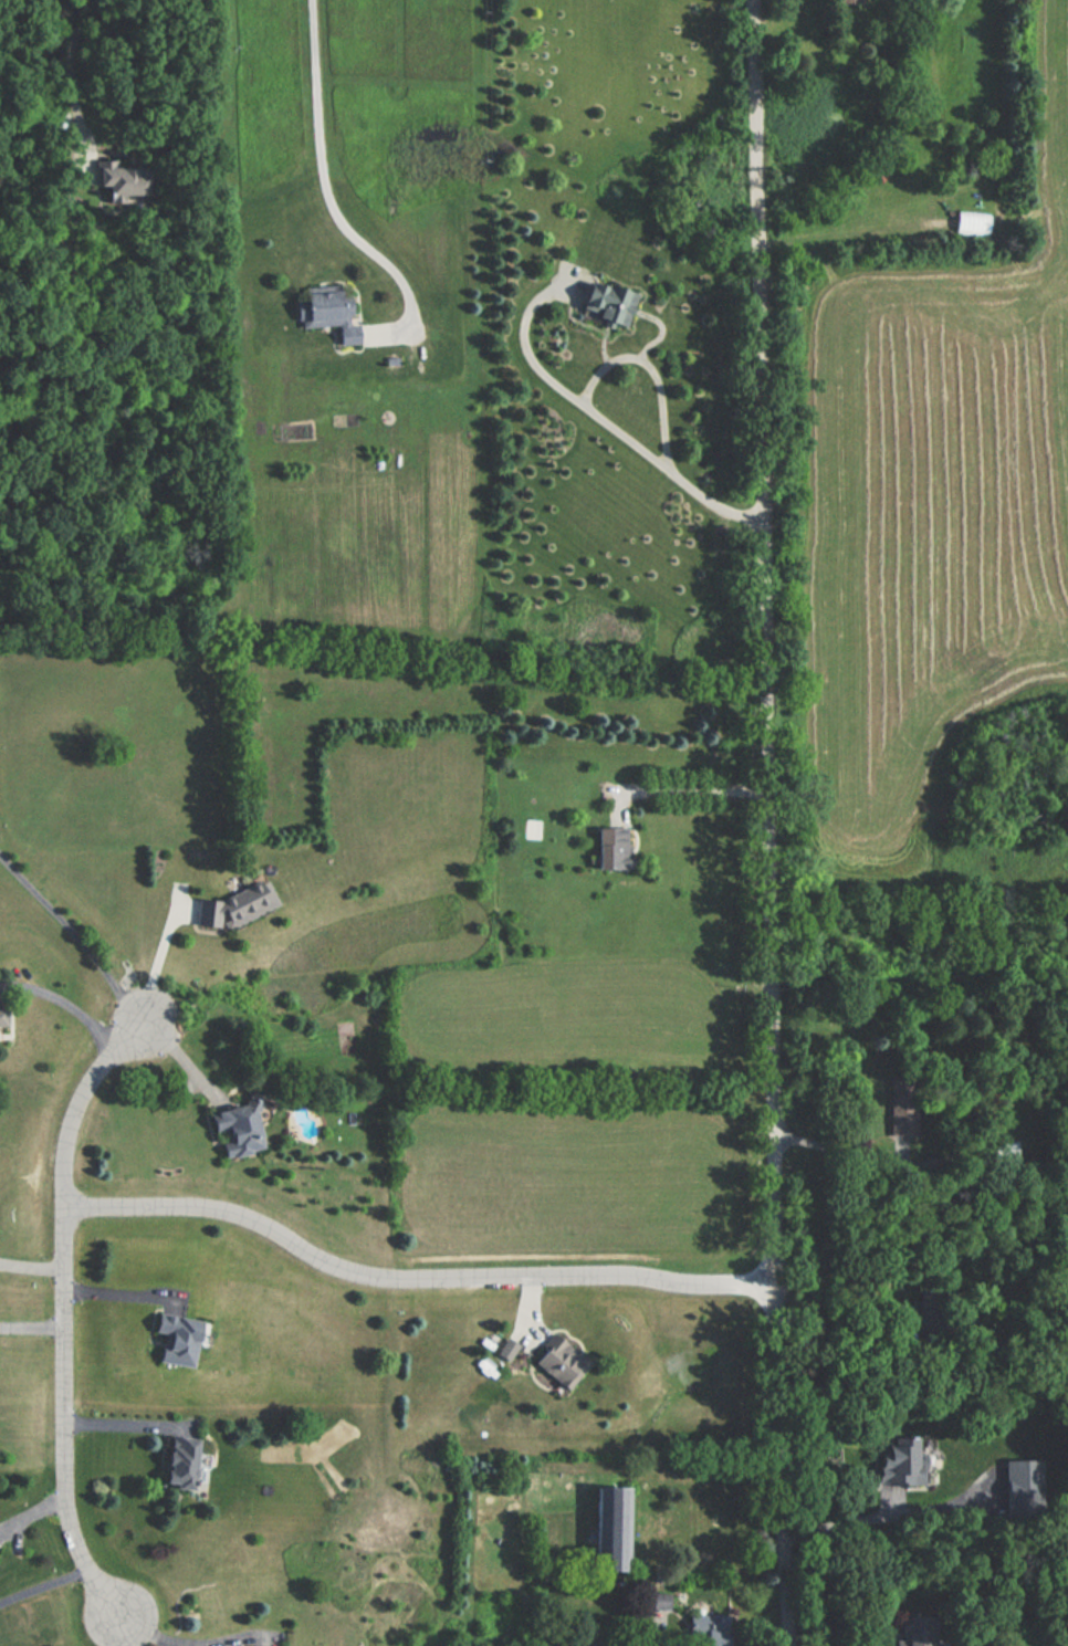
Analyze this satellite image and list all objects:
building: (848, 1)
road: (71, 53)
road: (325, 177)
building: (125, 185)
building: (970, 223)
building: (604, 305)
building: (324, 312)
road: (599, 418)
road: (681, 789)
road: (766, 822)
building: (610, 849)
building: (233, 906)
road: (74, 934)
road: (163, 951)
road: (64, 1004)
building: (1, 1017)
road: (184, 1058)
building: (232, 1131)
road: (31, 1269)
road: (412, 1276)
road: (124, 1296)
road: (63, 1309)
road: (827, 1325)
building: (175, 1339)
building: (504, 1350)
building: (557, 1360)
road: (125, 1427)
building: (896, 1460)
building: (176, 1461)
building: (1017, 1472)
road: (841, 1517)
building: (608, 1527)
road: (43, 1587)
building: (706, 1628)
building: (920, 1631)
road: (122, 1633)
road: (659, 1633)
road: (151, 1636)
road: (245, 1637)

